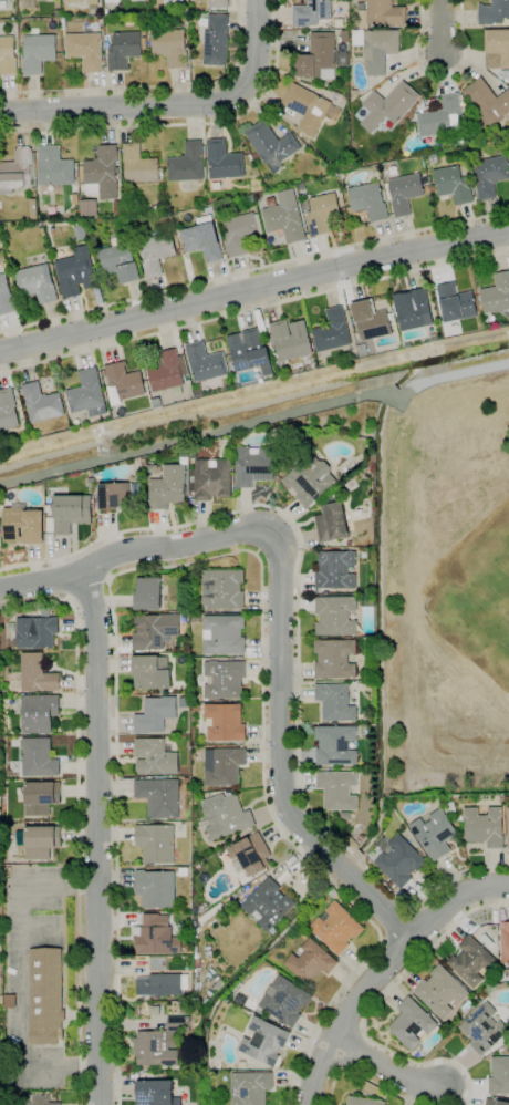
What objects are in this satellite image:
building: (176, 0)
building: (361, 0)
building: (72, 1)
building: (112, 1)
building: (135, 1)
building: (93, 2)
building: (27, 3)
building: (218, 3)
building: (361, 6)
building: (93, 10)
building: (311, 12)
building: (492, 12)
building: (56, 13)
building: (382, 14)
road: (424, 14)
road: (459, 14)
road: (442, 28)
building: (344, 39)
building: (108, 40)
building: (216, 41)
building: (169, 47)
building: (124, 49)
building: (376, 49)
building: (497, 49)
building: (85, 50)
building: (38, 53)
road: (413, 54)
building: (7, 55)
road: (464, 56)
building: (321, 58)
road: (407, 71)
building: (506, 74)
road: (444, 75)
road: (443, 78)
road: (155, 86)
building: (354, 92)
building: (487, 102)
building: (388, 105)
building: (307, 107)
road: (169, 109)
building: (443, 117)
road: (185, 124)
building: (271, 145)
building: (256, 156)
building: (222, 161)
building: (187, 164)
building: (138, 165)
building: (54, 167)
building: (15, 171)
building: (102, 174)
building: (489, 175)
building: (453, 185)
building: (405, 193)
building: (249, 199)
building: (368, 200)
building: (89, 207)
building: (116, 207)
building: (155, 208)
building: (33, 209)
building: (322, 214)
building: (284, 217)
building: (80, 233)
building: (241, 233)
building: (201, 239)
building: (155, 252)
building: (120, 262)
road: (253, 269)
building: (75, 272)
building: (35, 283)
road: (253, 289)
building: (497, 295)
building: (6, 297)
building: (455, 302)
building: (413, 308)
road: (253, 310)
building: (371, 320)
building: (332, 331)
building: (290, 339)
building: (248, 352)
building: (205, 362)
building: (168, 371)
building: (279, 374)
building: (123, 383)
building: (87, 394)
building: (42, 403)
building: (157, 403)
building: (8, 410)
road: (254, 421)
building: (253, 465)
building: (212, 478)
building: (309, 479)
building: (40, 484)
building: (167, 487)
building: (116, 496)
building: (332, 496)
building: (71, 512)
building: (331, 523)
building: (23, 525)
building: (350, 544)
road: (129, 552)
road: (230, 552)
building: (335, 570)
building: (222, 589)
building: (148, 593)
building: (335, 616)
building: (196, 618)
building: (154, 631)
building: (35, 632)
building: (222, 634)
road: (298, 636)
building: (334, 659)
building: (150, 672)
building: (34, 674)
building: (224, 680)
building: (183, 702)
building: (335, 702)
building: (196, 708)
building: (39, 713)
building: (155, 714)
building: (225, 722)
building: (335, 745)
road: (281, 755)
building: (155, 757)
building: (39, 758)
building: (222, 766)
building: (337, 789)
building: (41, 797)
building: (159, 797)
building: (507, 799)
road: (77, 816)
building: (224, 816)
building: (460, 819)
building: (508, 825)
building: (485, 826)
building: (434, 834)
road: (96, 837)
building: (360, 838)
building: (39, 841)
building: (155, 843)
building: (250, 854)
building: (398, 859)
building: (155, 888)
road: (453, 900)
building: (268, 905)
building: (335, 928)
road: (38, 929)
building: (156, 936)
building: (505, 942)
building: (208, 953)
building: (471, 960)
building: (310, 962)
building: (197, 963)
road: (20, 974)
building: (503, 974)
building: (160, 984)
building: (440, 992)
building: (45, 996)
building: (284, 1001)
building: (10, 1002)
road: (373, 1009)
building: (183, 1010)
road: (345, 1014)
building: (411, 1023)
building: (178, 1024)
building: (484, 1029)
building: (263, 1041)
building: (155, 1049)
building: (241, 1065)
road: (384, 1067)
building: (499, 1075)
road: (363, 1077)
building: (250, 1087)
building: (156, 1093)
building: (40, 1101)
building: (363, 1102)
building: (495, 1102)

